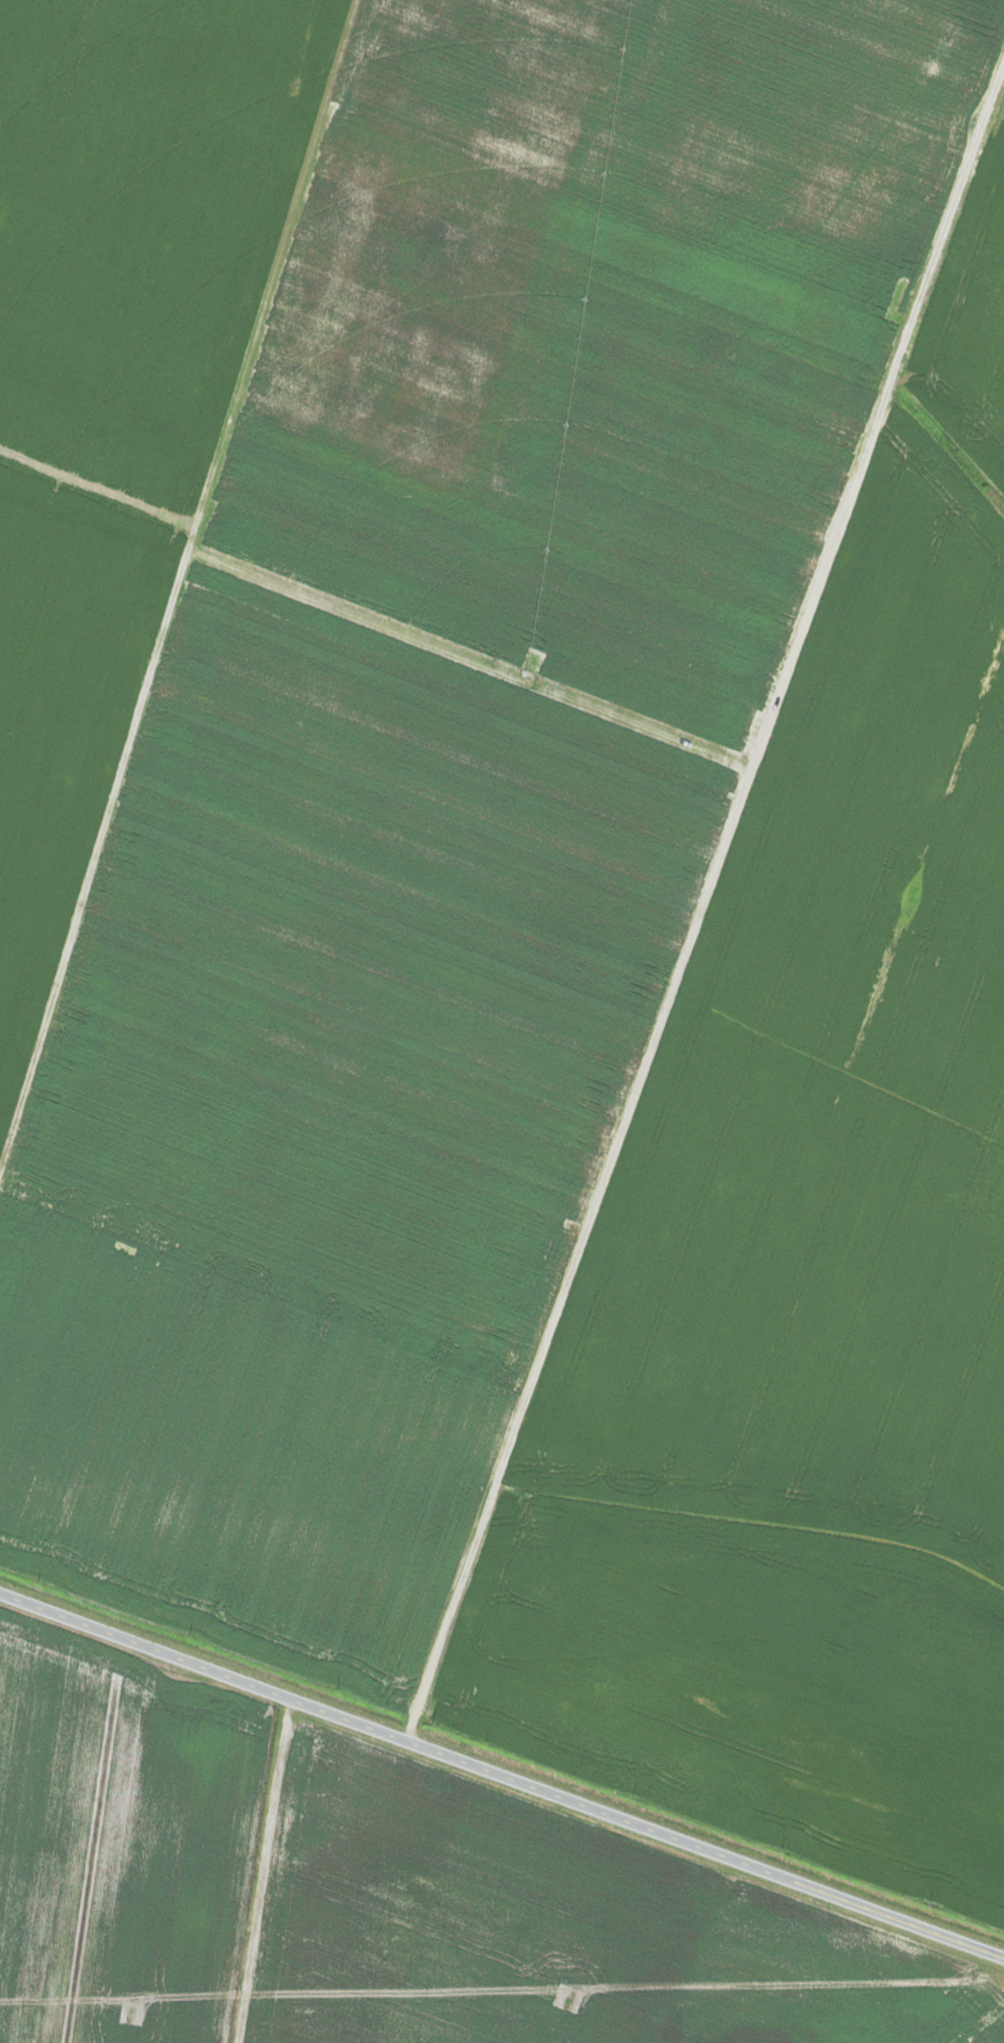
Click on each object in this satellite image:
road: (502, 1778)
power tower: (568, 2001)
power tower: (129, 2013)

